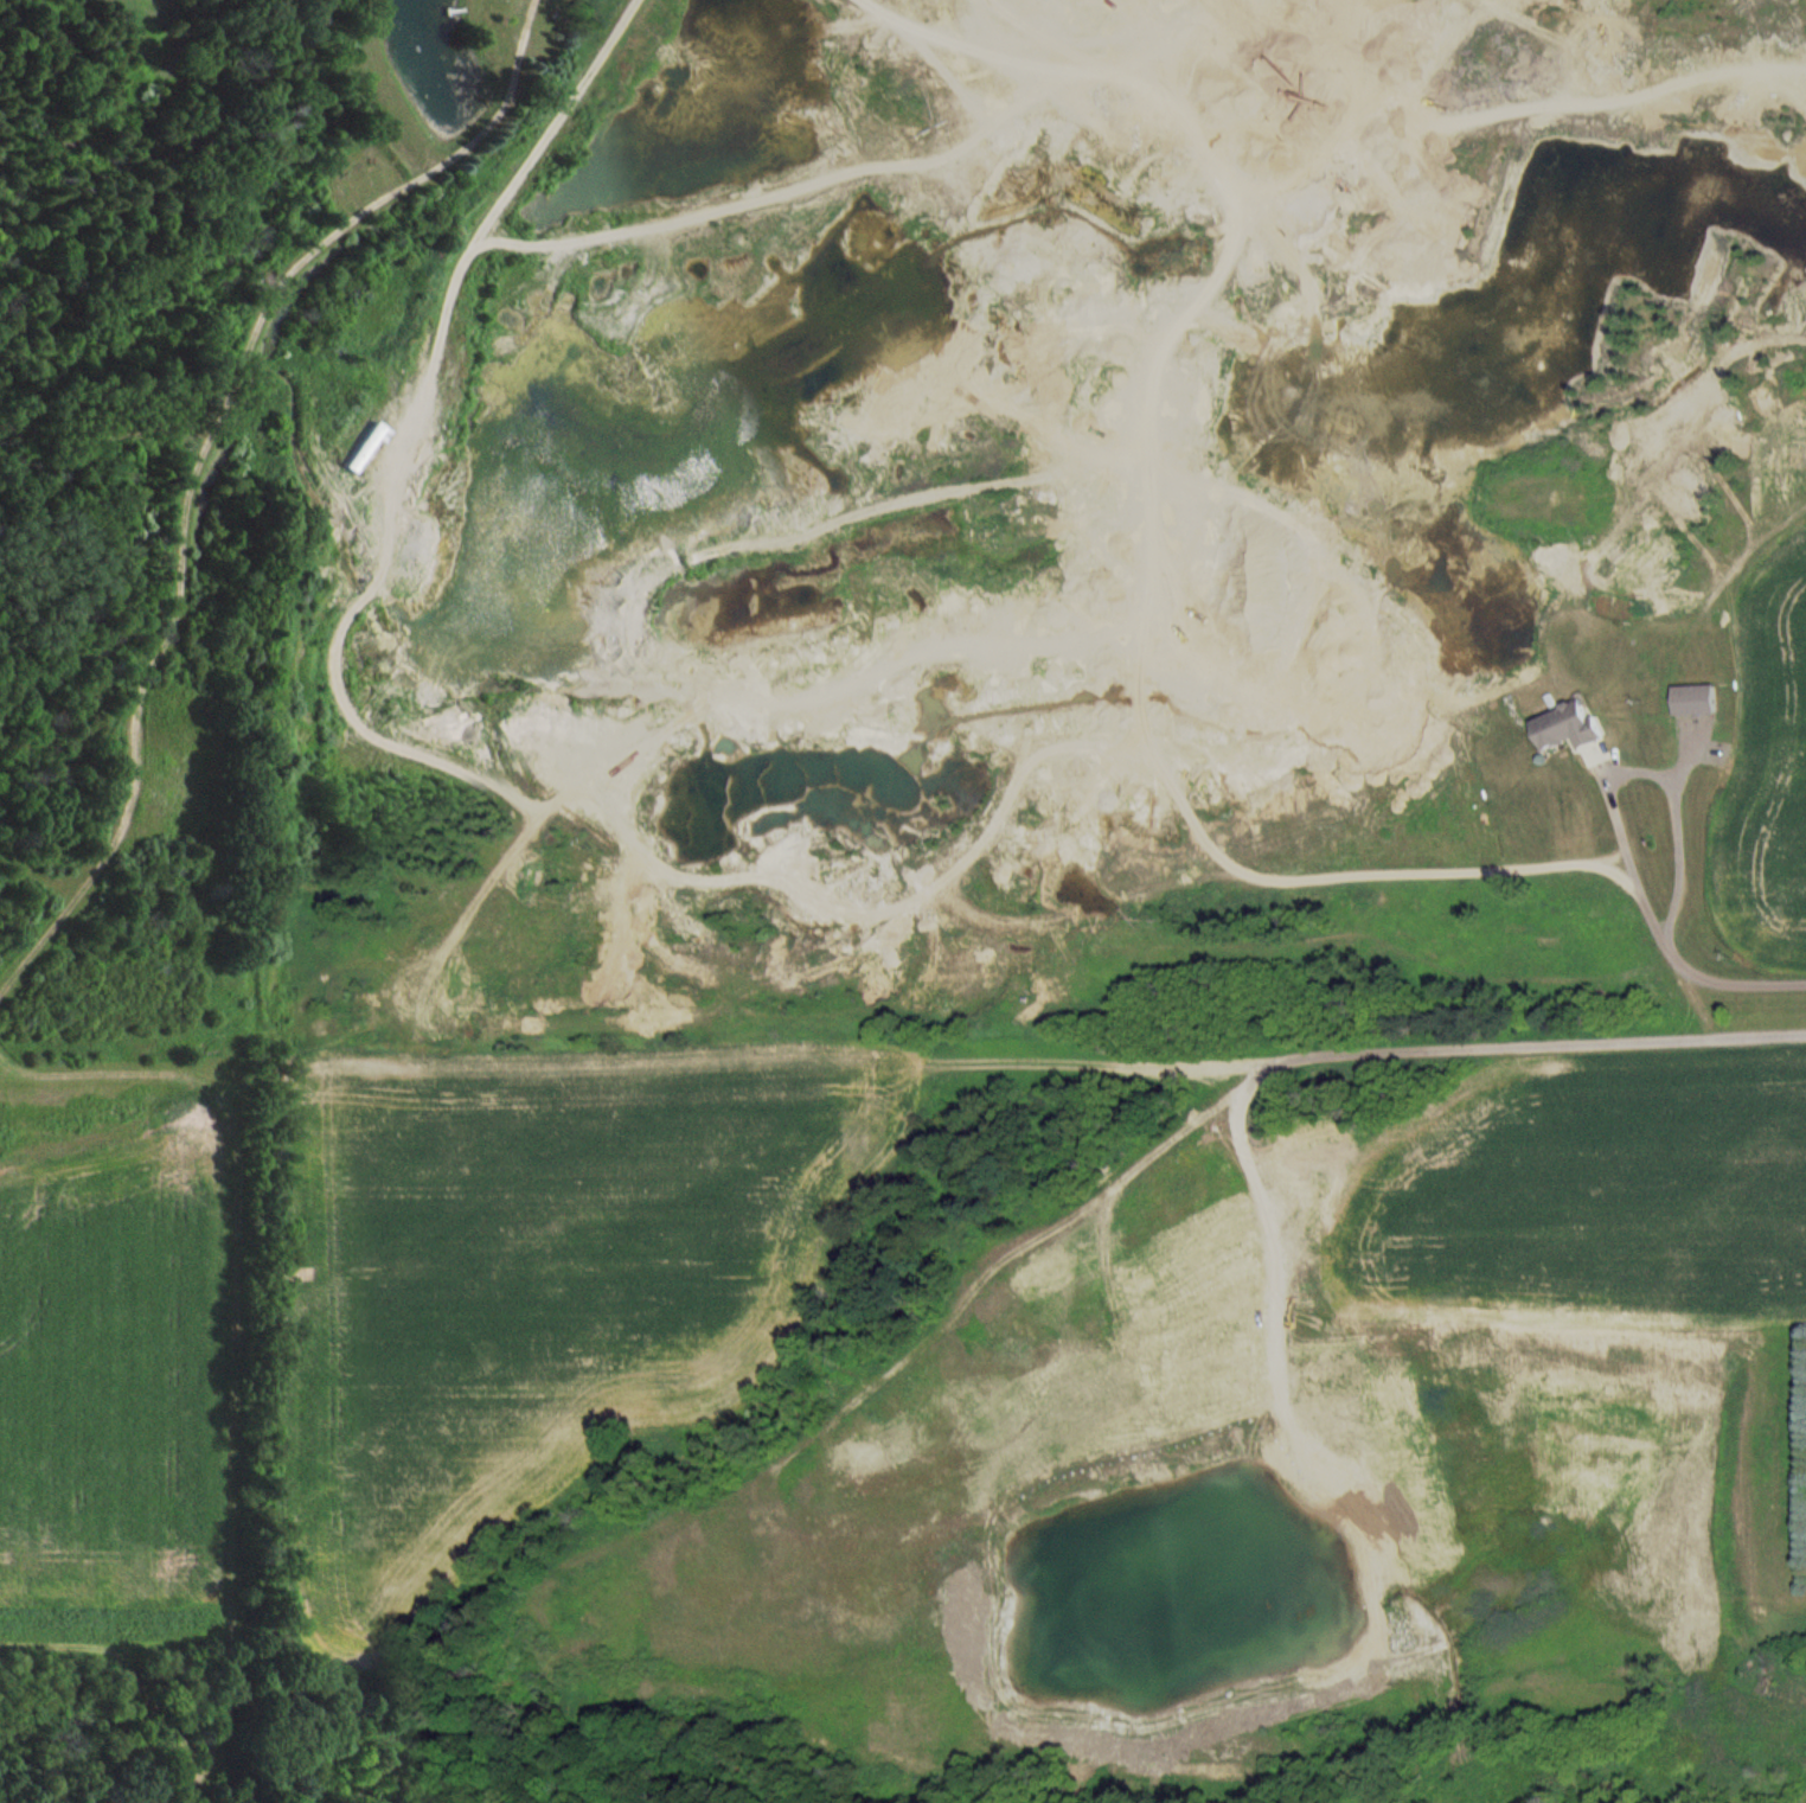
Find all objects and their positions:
building: (1691, 698)
building: (1562, 725)
road: (1635, 769)
road: (1725, 986)
building: (788, 1537)
road: (182, 1797)

